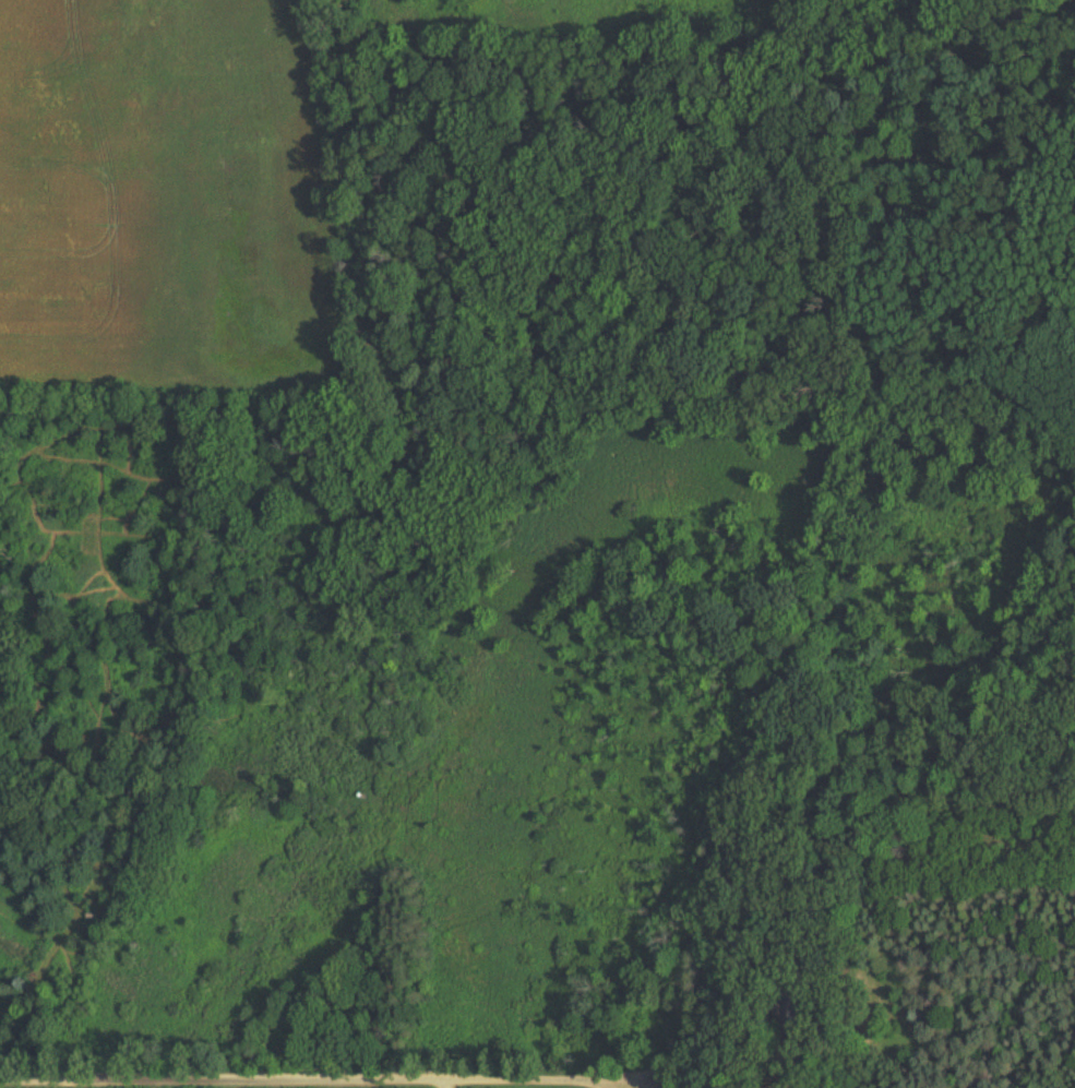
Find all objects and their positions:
building: (734, 952)
road: (321, 1084)
road: (643, 1086)

